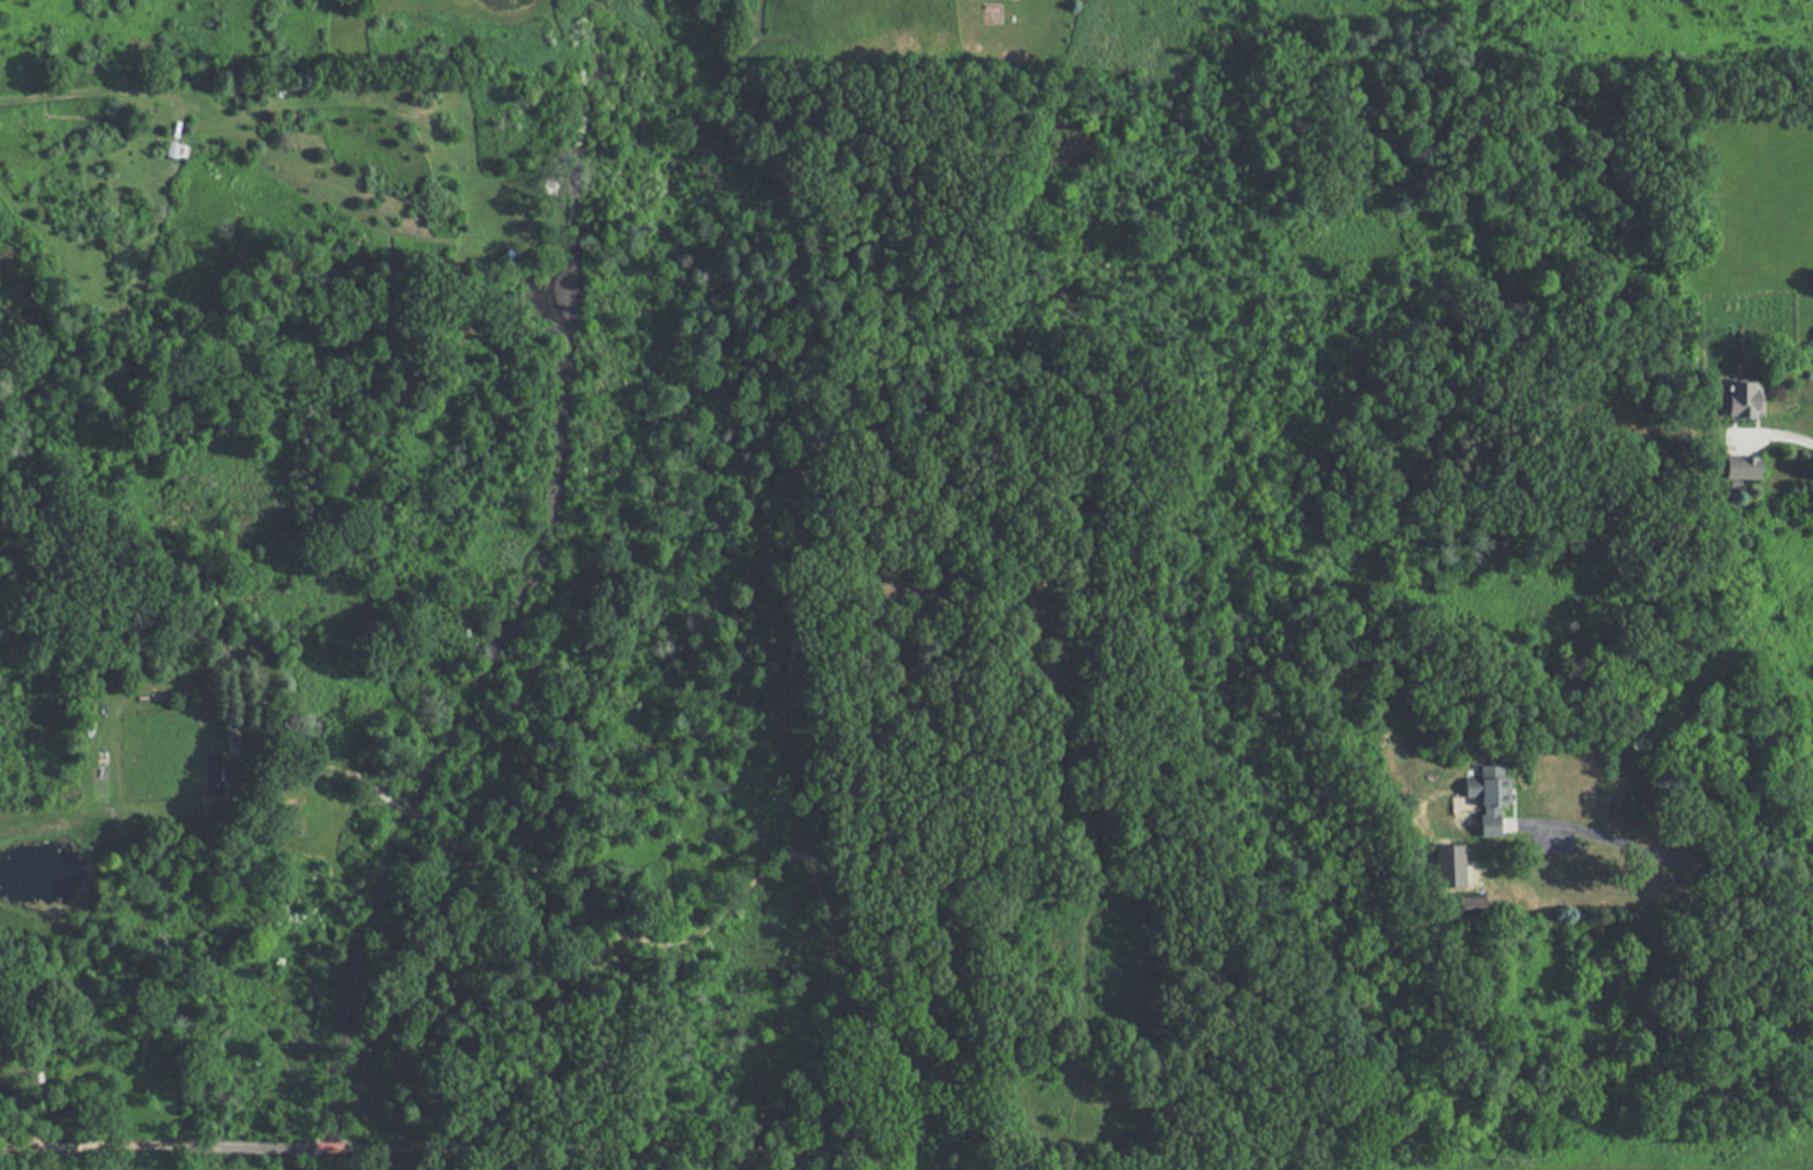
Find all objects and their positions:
building: (1739, 398)
road: (1786, 436)
building: (1741, 467)
building: (1488, 795)
road: (1671, 862)
building: (1449, 864)
building: (1470, 900)
road: (156, 1143)
road: (332, 1146)
road: (376, 1147)

